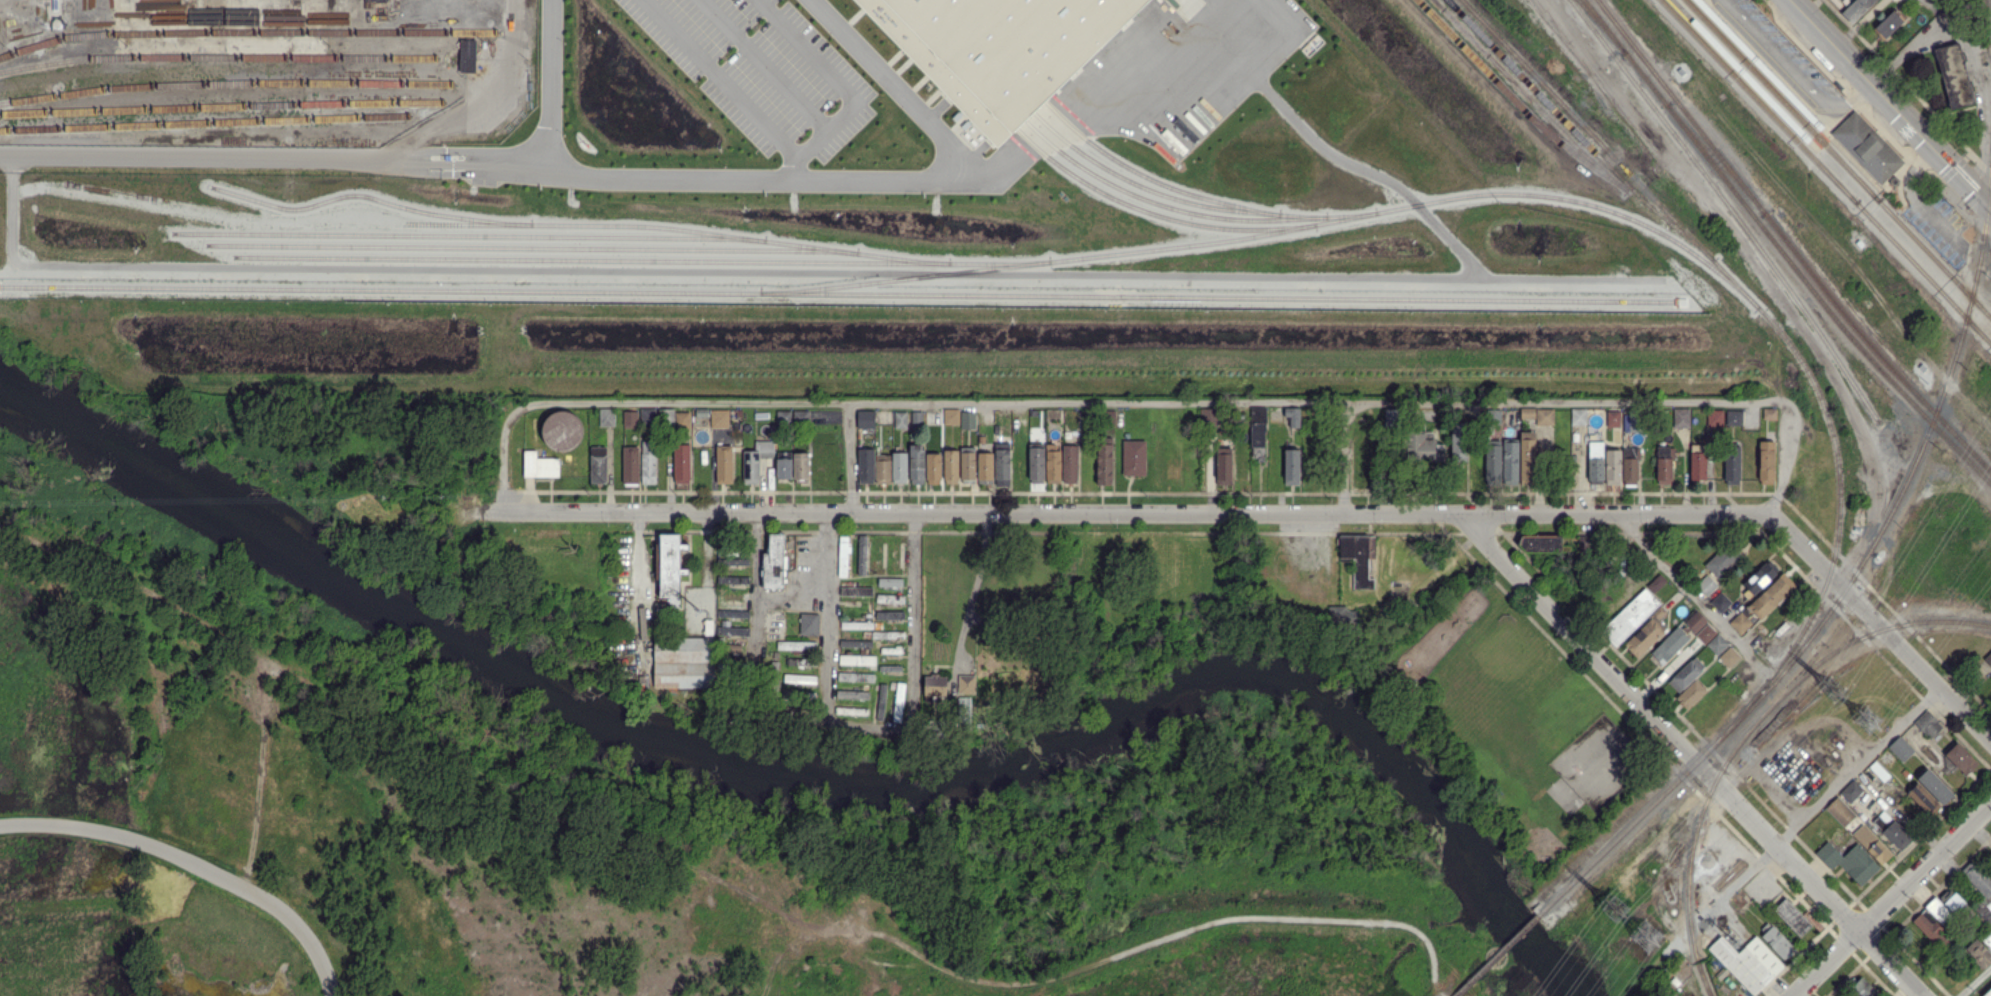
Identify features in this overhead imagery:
building: (1857, 9)
road: (1274, 17)
road: (54, 22)
road: (1817, 24)
building: (1889, 25)
railway: (1603, 26)
railway: (248, 33)
road: (505, 43)
road: (1816, 48)
building: (997, 49)
building: (467, 55)
parking lot: (1788, 55)
railway: (217, 56)
road: (1770, 65)
road: (753, 68)
building: (1680, 70)
road: (1796, 72)
parking lot: (755, 73)
building: (1955, 76)
road: (712, 81)
road: (825, 82)
railway: (224, 84)
road: (546, 87)
road: (904, 91)
railway: (1783, 92)
road: (1988, 95)
railway: (1782, 99)
railway: (1759, 100)
railway: (1760, 100)
railway: (1780, 100)
railway: (1515, 101)
railway: (1769, 104)
railway: (221, 108)
road: (1807, 111)
railway: (1557, 113)
road: (1845, 115)
railway: (202, 122)
road: (1794, 124)
road: (1915, 127)
road: (1901, 136)
railway: (1568, 137)
road: (1821, 139)
flagpole: (577, 143)
building: (1866, 146)
flagpole: (583, 148)
flagpole: (588, 152)
road: (1344, 160)
railway: (1717, 160)
road: (1855, 161)
road: (232, 163)
road: (1980, 163)
road: (1955, 164)
railway: (1730, 168)
road: (790, 174)
railway: (1721, 175)
railway: (1154, 179)
building: (1893, 181)
road: (881, 187)
building: (1893, 188)
railway: (1170, 196)
railway: (370, 197)
road: (1915, 199)
railway: (1166, 205)
building: (1896, 205)
railway: (1729, 207)
railway: (1157, 214)
railway: (1350, 214)
road: (15, 215)
railway: (679, 228)
parking lot: (1943, 228)
railway: (1274, 231)
railway: (469, 235)
railway: (532, 247)
railway: (1934, 258)
railway: (642, 259)
railway: (1923, 271)
road: (844, 273)
railway: (837, 292)
railway: (1779, 331)
road: (1169, 401)
railway: (1926, 405)
building: (1769, 411)
building: (1527, 412)
building: (647, 414)
building: (800, 415)
building: (951, 415)
building: (1293, 415)
building: (606, 416)
building: (667, 416)
building: (783, 416)
building: (1390, 416)
building: (1544, 416)
building: (1578, 416)
building: (1733, 416)
railway: (1925, 416)
building: (630, 417)
building: (916, 417)
building: (1681, 417)
building: (1714, 417)
building: (719, 418)
building: (865, 418)
building: (900, 418)
building: (1613, 418)
building: (682, 419)
building: (968, 419)
building: (1630, 421)
building: (561, 430)
building: (1257, 432)
building: (1459, 441)
road: (505, 442)
building: (1423, 447)
road: (848, 457)
building: (1134, 457)
road: (1343, 458)
building: (1766, 459)
building: (755, 460)
building: (1104, 460)
building: (1528, 460)
road: (1786, 460)
building: (648, 461)
building: (1732, 461)
building: (1036, 462)
building: (1493, 462)
building: (1510, 462)
building: (1595, 462)
building: (681, 463)
building: (724, 463)
building: (916, 463)
building: (968, 463)
building: (1002, 463)
building: (1053, 463)
building: (1070, 463)
building: (598, 464)
building: (1664, 464)
building: (539, 465)
building: (631, 465)
building: (783, 465)
building: (800, 465)
building: (865, 465)
building: (1224, 465)
building: (1630, 465)
building: (951, 466)
building: (985, 466)
building: (1292, 466)
building: (1612, 466)
building: (899, 467)
building: (933, 467)
building: (882, 468)
road: (1128, 513)
building: (1539, 543)
building: (861, 553)
building: (843, 556)
building: (1358, 556)
building: (732, 559)
building: (773, 562)
building: (1720, 562)
building: (671, 568)
building: (1760, 578)
building: (732, 579)
building: (890, 581)
building: (1706, 584)
building: (856, 590)
road: (973, 590)
road: (1691, 591)
railway: (1842, 594)
building: (1771, 595)
building: (890, 598)
building: (1720, 601)
road: (755, 607)
road: (913, 607)
building: (733, 613)
building: (889, 614)
building: (1341, 615)
building: (1629, 616)
road: (828, 618)
building: (1740, 622)
building: (809, 623)
building: (856, 624)
building: (1700, 626)
road: (1881, 628)
building: (732, 630)
building: (1646, 633)
building: (888, 634)
building: (855, 642)
building: (796, 644)
building: (1716, 644)
building: (1668, 645)
building: (891, 649)
building: (1729, 656)
building: (1988, 658)
building: (857, 659)
building: (799, 661)
building: (683, 662)
building: (890, 667)
building: (1686, 673)
building: (855, 676)
park: (1504, 676)
building: (799, 678)
building: (966, 683)
building: (935, 684)
power tower: (1833, 686)
building: (852, 693)
building: (1690, 693)
building: (881, 700)
building: (898, 701)
building: (851, 710)
road: (790, 715)
power tower: (1870, 719)
park: (1510, 720)
building: (1927, 723)
road: (878, 728)
railway: (1748, 732)
building: (1900, 747)
road: (1689, 755)
building: (1960, 757)
river: (823, 781)
building: (1934, 785)
building: (1851, 790)
road: (1822, 795)
building: (1923, 798)
building: (1858, 830)
building: (1891, 830)
road: (198, 859)
building: (1849, 861)
building: (1980, 885)
road: (1892, 899)
power tower: (1613, 902)
building: (1944, 907)
building: (1792, 916)
building: (1931, 928)
power tower: (1645, 935)
building: (1987, 939)
building: (1777, 941)
building: (1978, 952)
railway: (1498, 954)
building: (1747, 962)
road: (1975, 981)
building: (1863, 988)
building: (1988, 993)

